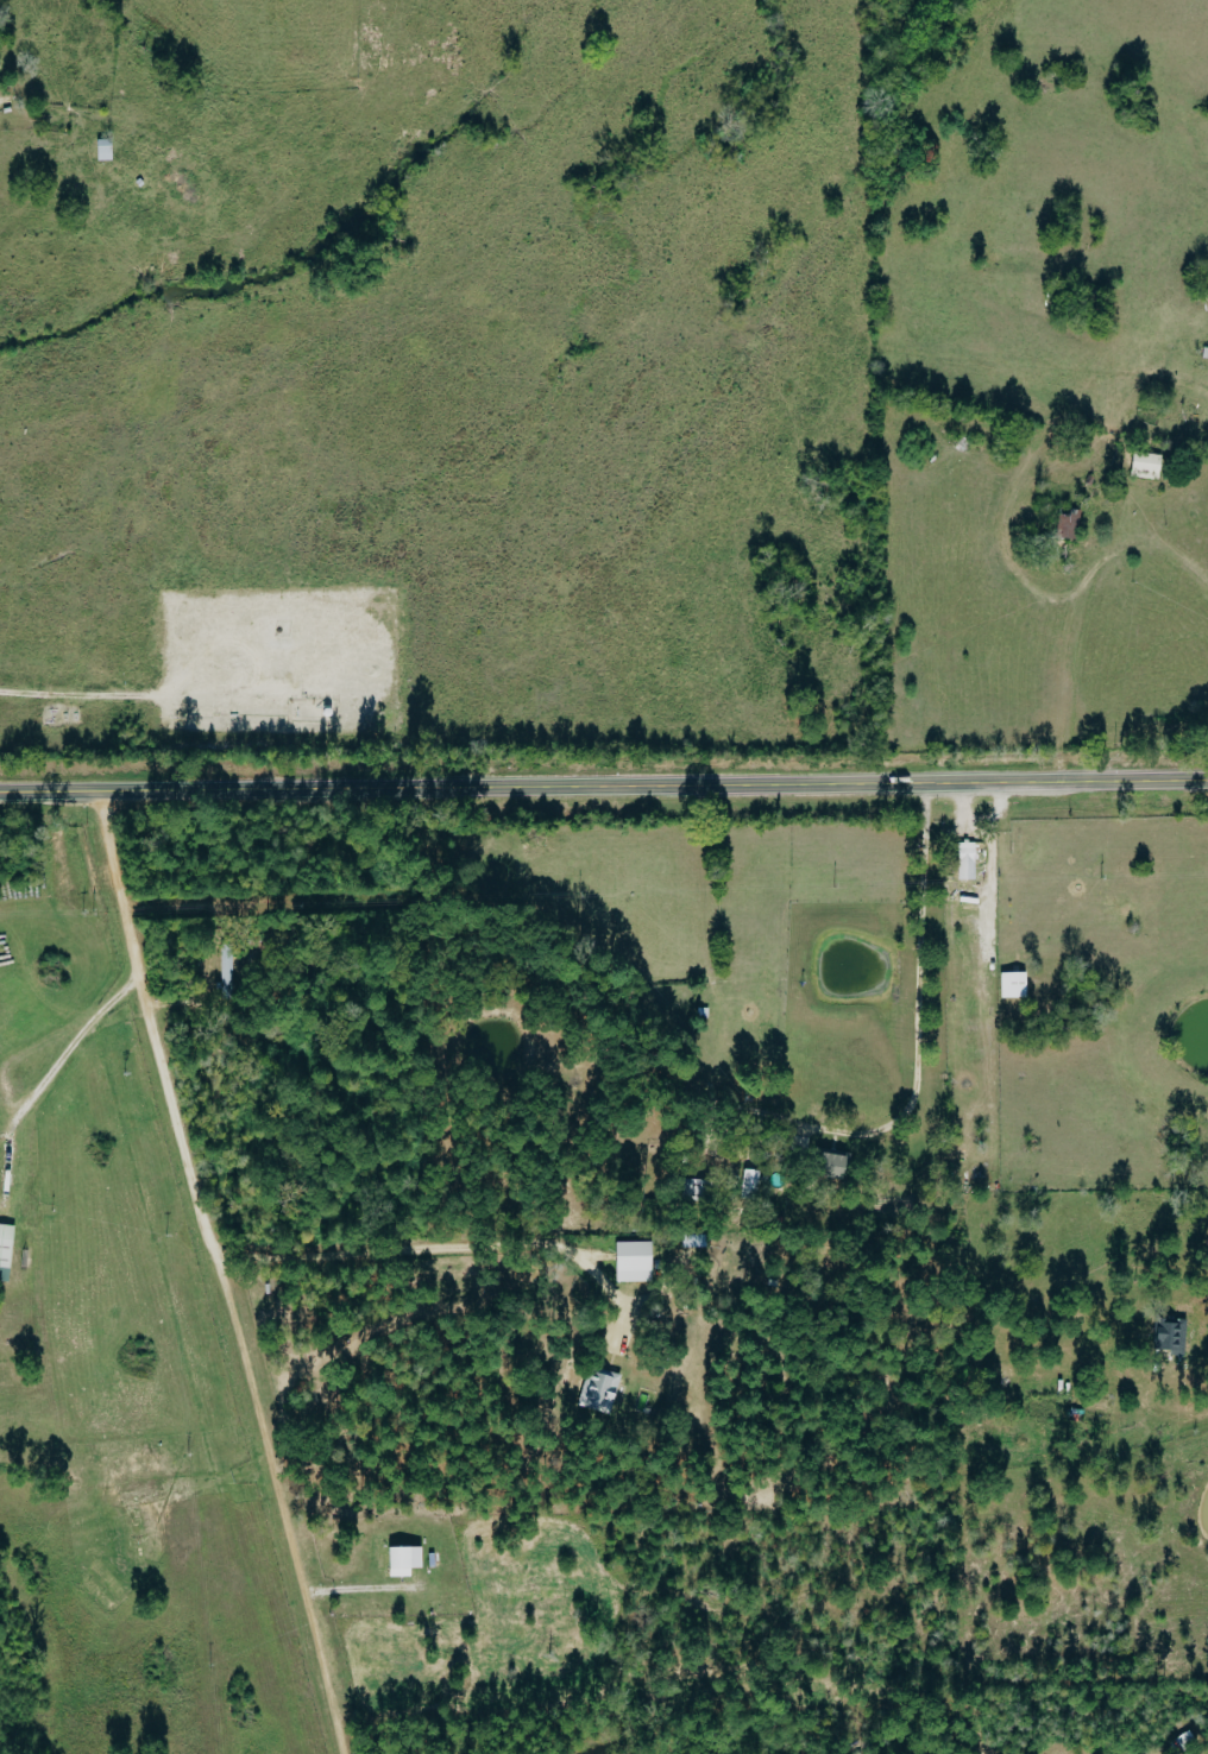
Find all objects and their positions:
building: (107, 149)
building: (1149, 466)
building: (1070, 525)
road: (604, 787)
building: (968, 862)
building: (1015, 985)
road: (62, 1053)
building: (836, 1163)
building: (753, 1180)
building: (6, 1250)
building: (636, 1261)
road: (220, 1272)
building: (1172, 1337)
road: (1201, 1387)
building: (600, 1390)
building: (407, 1560)

